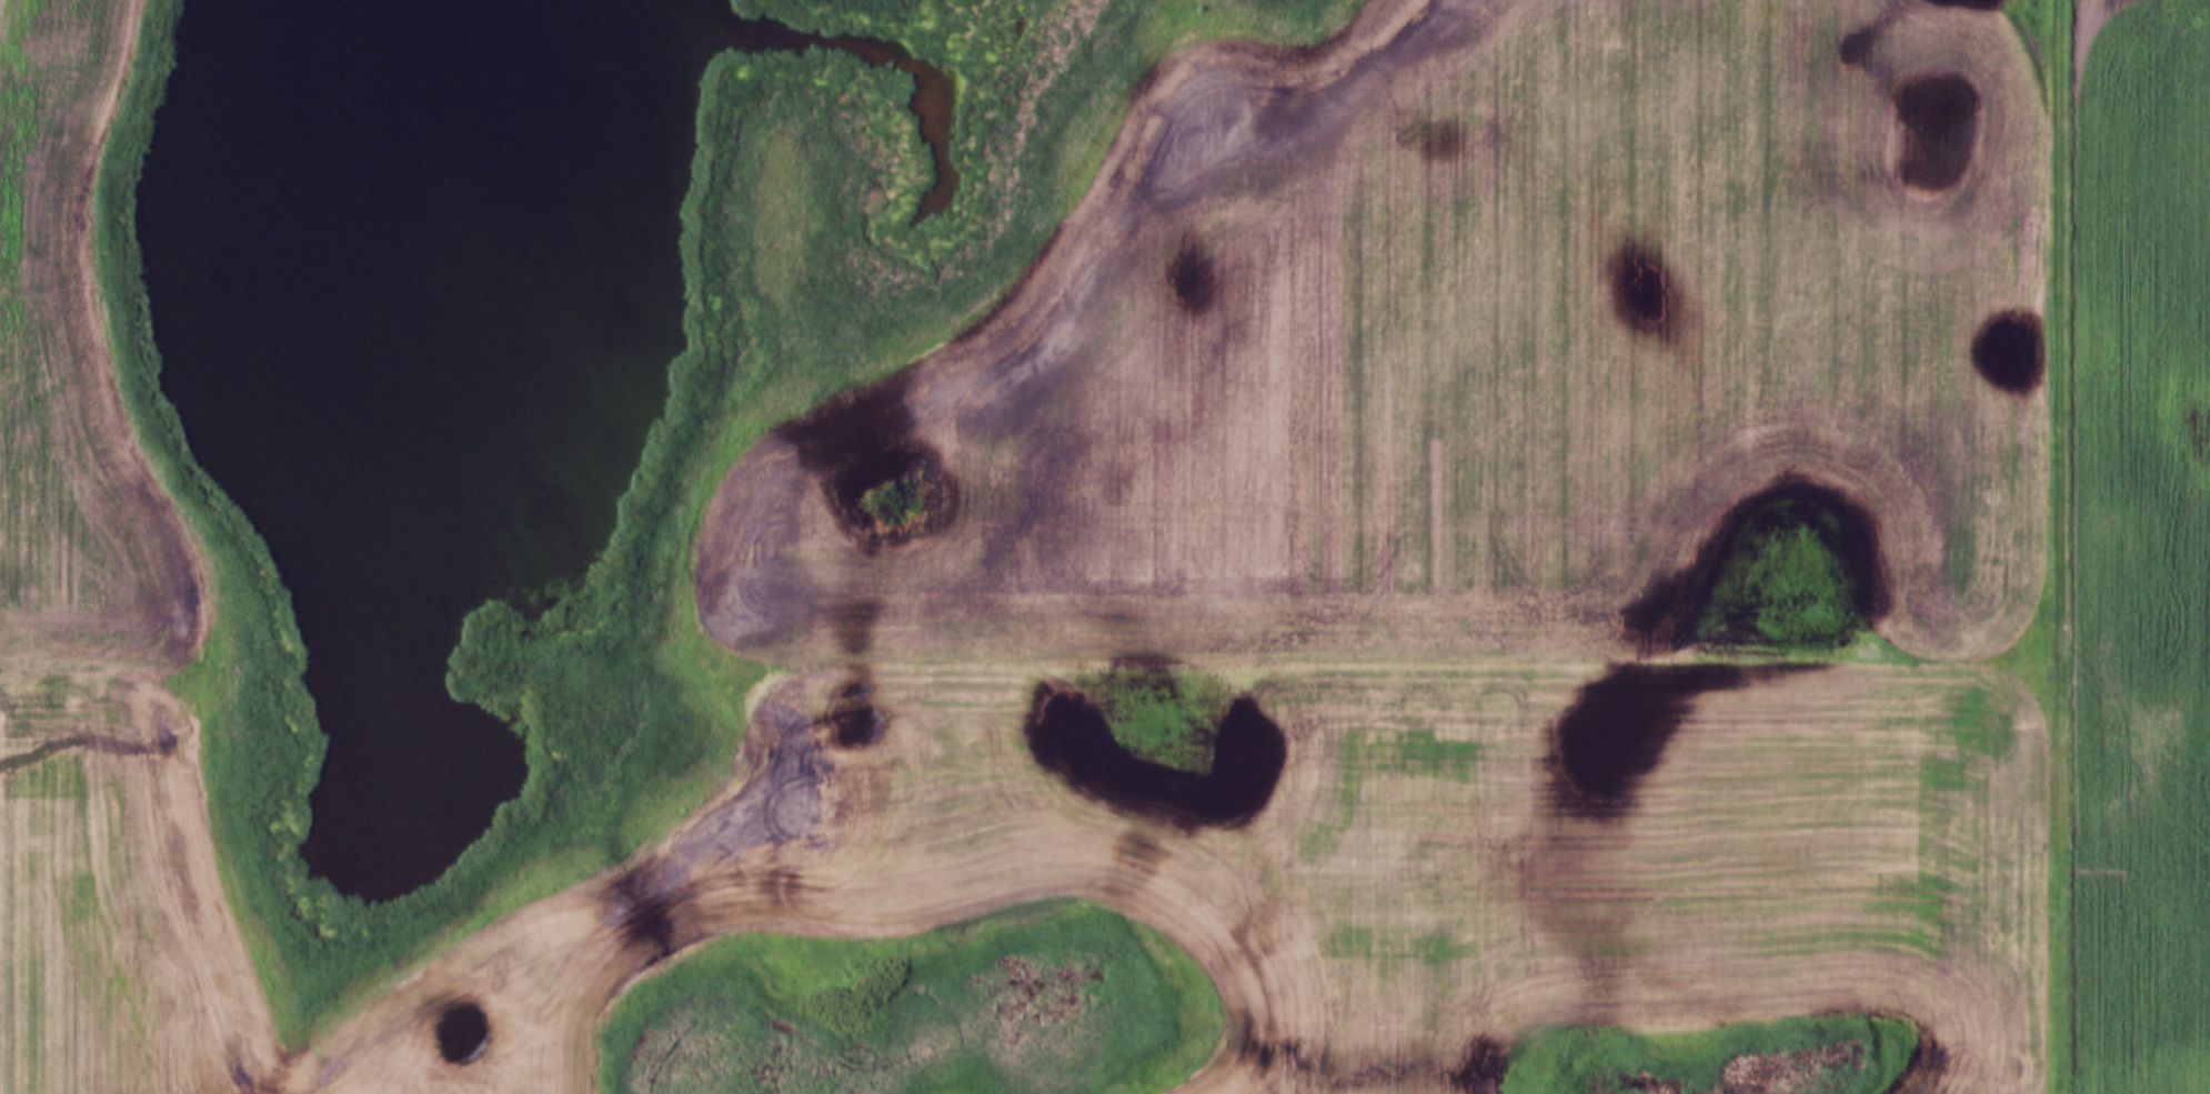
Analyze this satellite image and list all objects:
road: (2073, 546)

